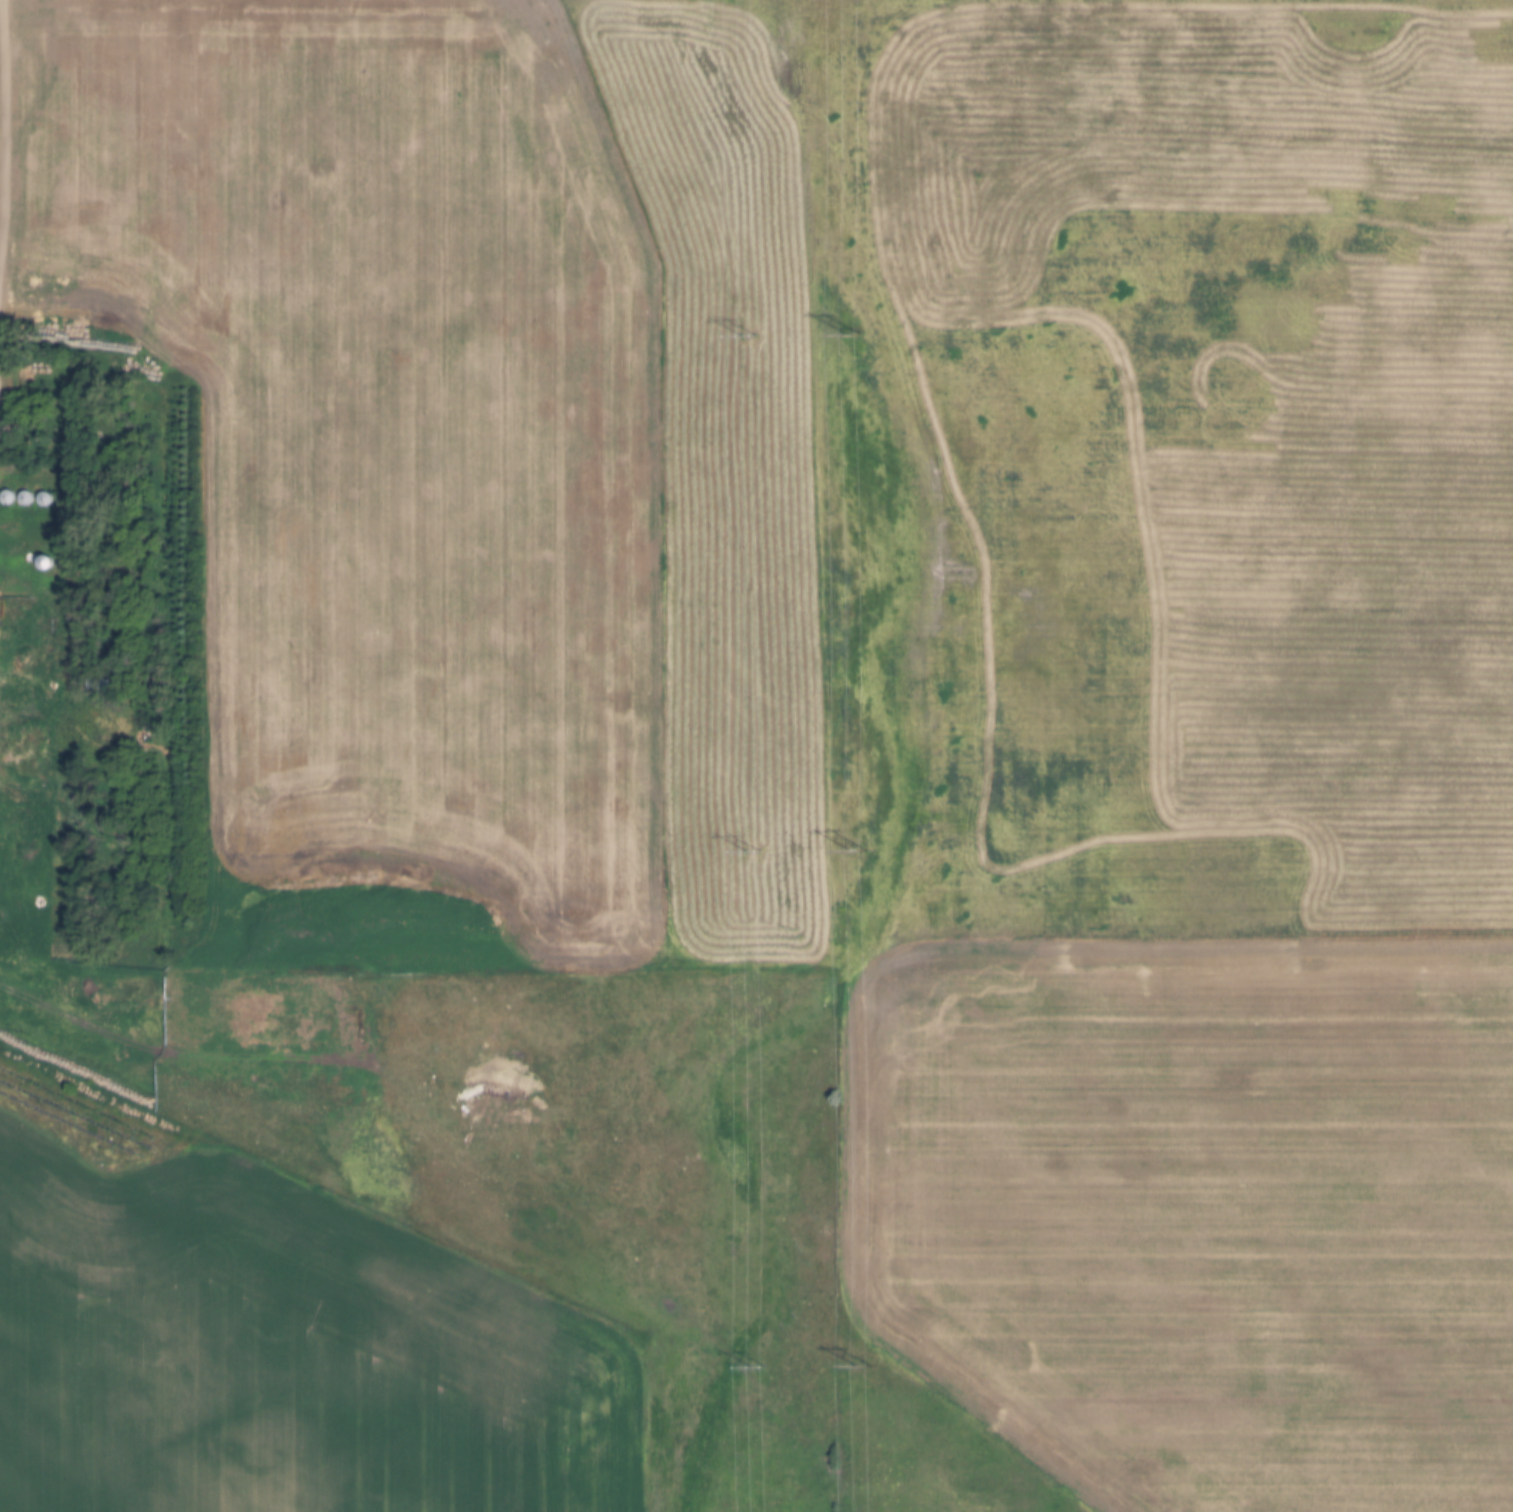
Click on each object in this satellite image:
road: (4, 172)
power tower: (853, 333)
power tower: (745, 335)
building: (8, 497)
building: (24, 498)
building: (44, 499)
power tower: (856, 850)
power tower: (751, 852)
building: (216, 1013)
power tower: (861, 1365)
power tower: (755, 1368)

